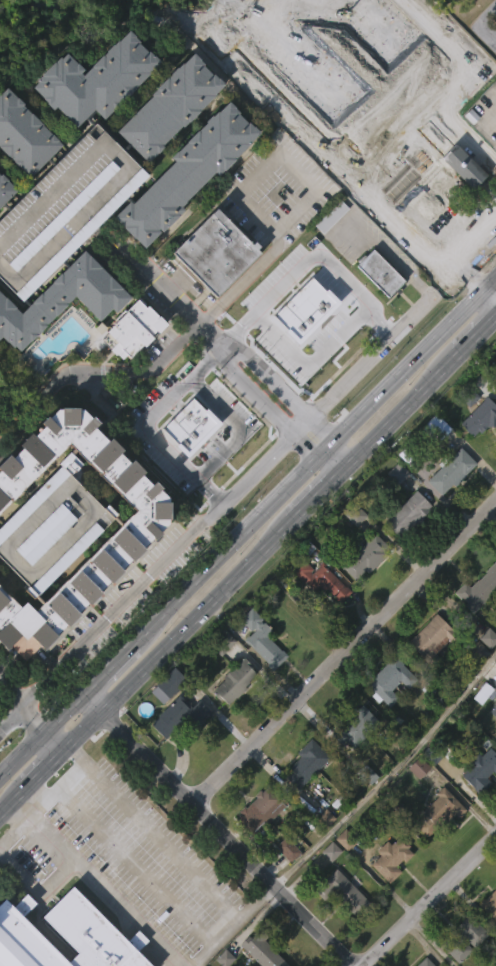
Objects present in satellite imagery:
building: (70, 1)
building: (14, 5)
road: (220, 12)
road: (478, 24)
building: (452, 60)
building: (95, 78)
road: (442, 89)
building: (451, 94)
road: (274, 95)
building: (170, 105)
building: (93, 114)
road: (482, 119)
road: (464, 129)
building: (27, 133)
building: (166, 141)
building: (416, 165)
building: (187, 172)
building: (495, 177)
building: (5, 188)
building: (411, 201)
building: (185, 206)
building: (63, 207)
road: (291, 214)
road: (255, 217)
road: (175, 219)
road: (394, 223)
road: (320, 238)
building: (216, 251)
building: (381, 272)
road: (472, 281)
building: (212, 286)
road: (167, 292)
road: (490, 296)
building: (321, 299)
building: (62, 300)
building: (377, 306)
building: (268, 307)
building: (131, 329)
building: (60, 333)
building: (316, 333)
road: (339, 337)
road: (215, 339)
road: (414, 359)
building: (129, 363)
road: (94, 371)
road: (284, 392)
road: (265, 409)
building: (480, 417)
road: (145, 420)
road: (324, 449)
road: (341, 450)
building: (478, 450)
building: (434, 462)
road: (326, 466)
building: (452, 471)
road: (245, 480)
building: (448, 505)
building: (393, 507)
building: (408, 514)
building: (51, 528)
building: (136, 535)
building: (351, 547)
building: (404, 547)
road: (225, 549)
building: (364, 557)
road: (246, 563)
building: (319, 580)
building: (478, 590)
building: (362, 591)
building: (317, 612)
building: (477, 621)
building: (432, 638)
building: (262, 639)
building: (222, 641)
road: (345, 653)
road: (108, 668)
building: (485, 670)
building: (258, 672)
building: (429, 672)
building: (220, 676)
building: (234, 681)
building: (389, 681)
building: (171, 683)
building: (474, 684)
building: (435, 695)
road: (32, 712)
building: (387, 713)
building: (231, 715)
building: (181, 716)
building: (356, 726)
building: (479, 726)
road: (41, 736)
building: (492, 742)
building: (177, 748)
building: (352, 760)
building: (306, 762)
building: (481, 767)
road: (388, 772)
road: (61, 782)
building: (429, 788)
building: (303, 797)
building: (415, 800)
building: (478, 803)
building: (364, 805)
building: (260, 810)
building: (439, 810)
road: (15, 829)
road: (218, 829)
road: (160, 840)
building: (256, 843)
building: (437, 843)
building: (322, 851)
building: (392, 857)
road: (135, 864)
building: (284, 882)
road: (97, 883)
building: (342, 891)
building: (388, 891)
road: (38, 896)
road: (429, 900)
building: (489, 904)
building: (338, 924)
road: (229, 925)
building: (66, 935)
building: (489, 937)
building: (462, 938)
building: (263, 949)
building: (465, 960)
building: (423, 962)
building: (252, 965)

